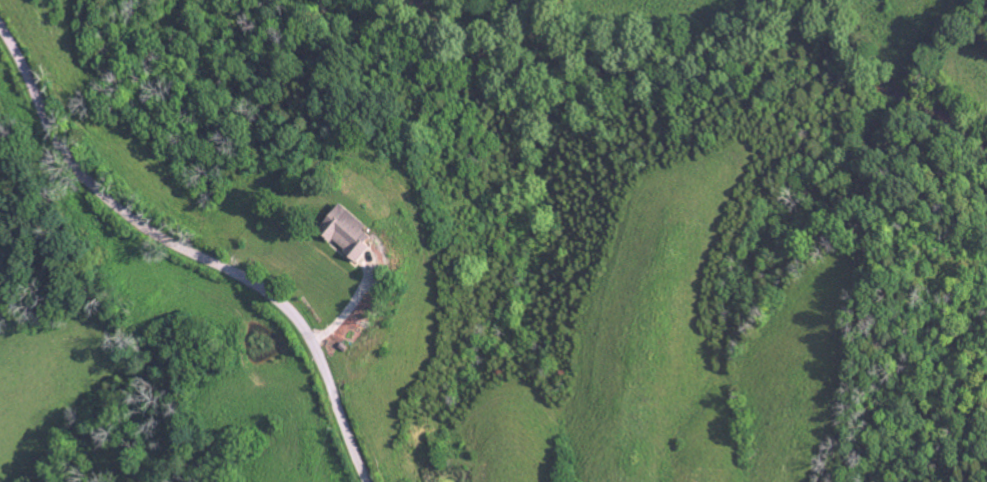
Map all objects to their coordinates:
building: (346, 232)
road: (189, 252)

